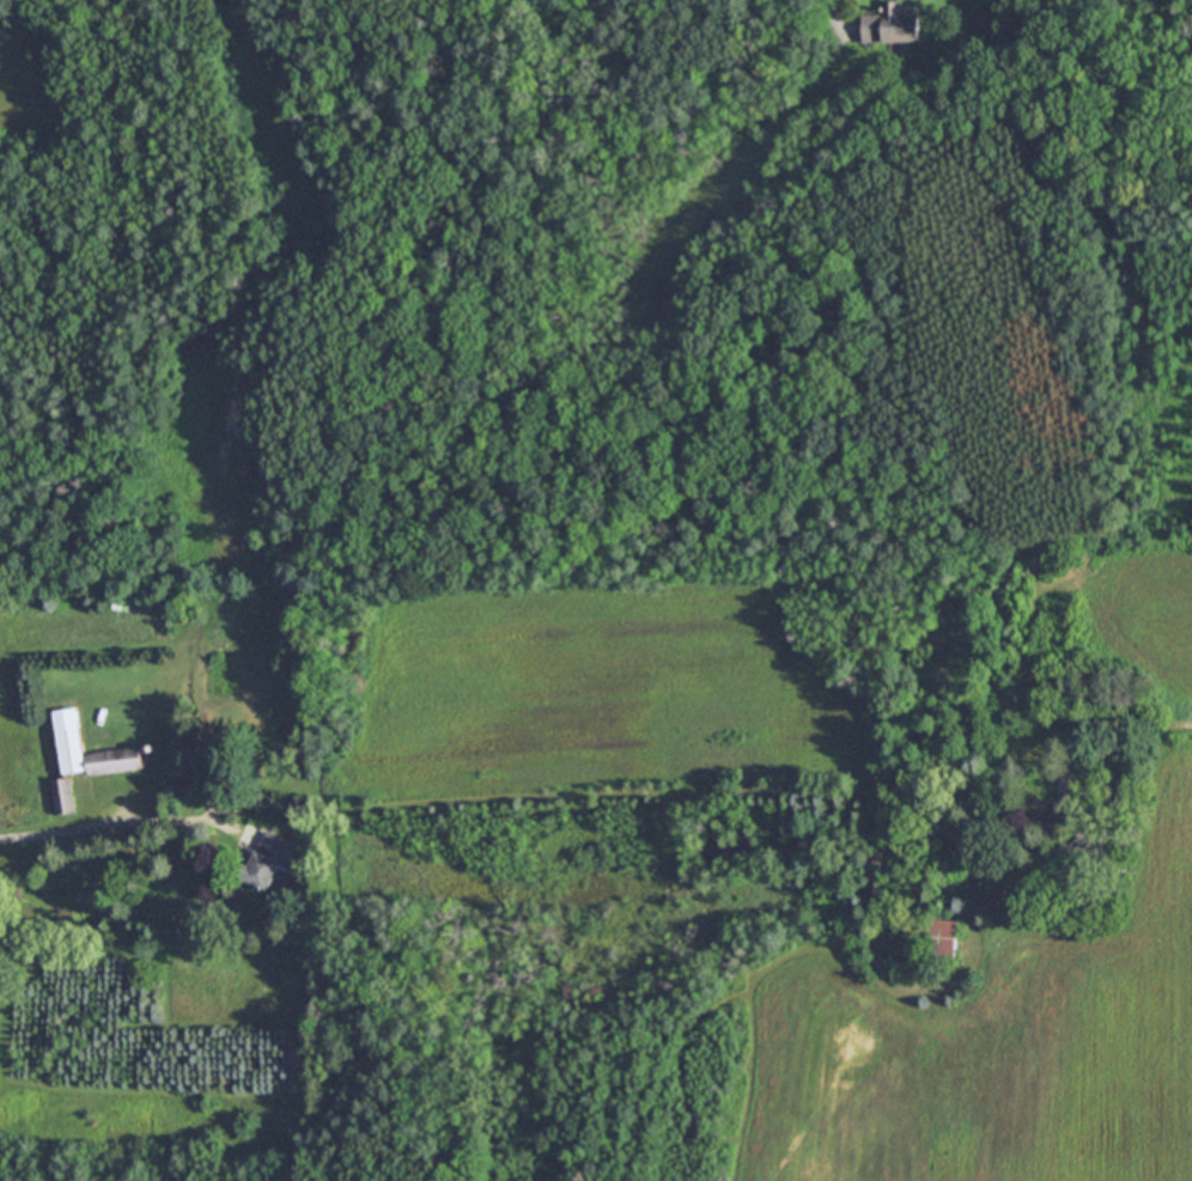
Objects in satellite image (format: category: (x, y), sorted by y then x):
road: (835, 14)
building: (889, 26)
road: (1137, 726)
building: (72, 738)
building: (150, 747)
building: (118, 760)
building: (896, 761)
building: (180, 787)
building: (1036, 790)
building: (1066, 790)
building: (63, 796)
building: (230, 803)
building: (171, 809)
building: (1060, 821)
road: (132, 822)
road: (7, 838)
building: (1083, 839)
building: (878, 852)
building: (268, 858)
building: (996, 897)
building: (931, 936)

